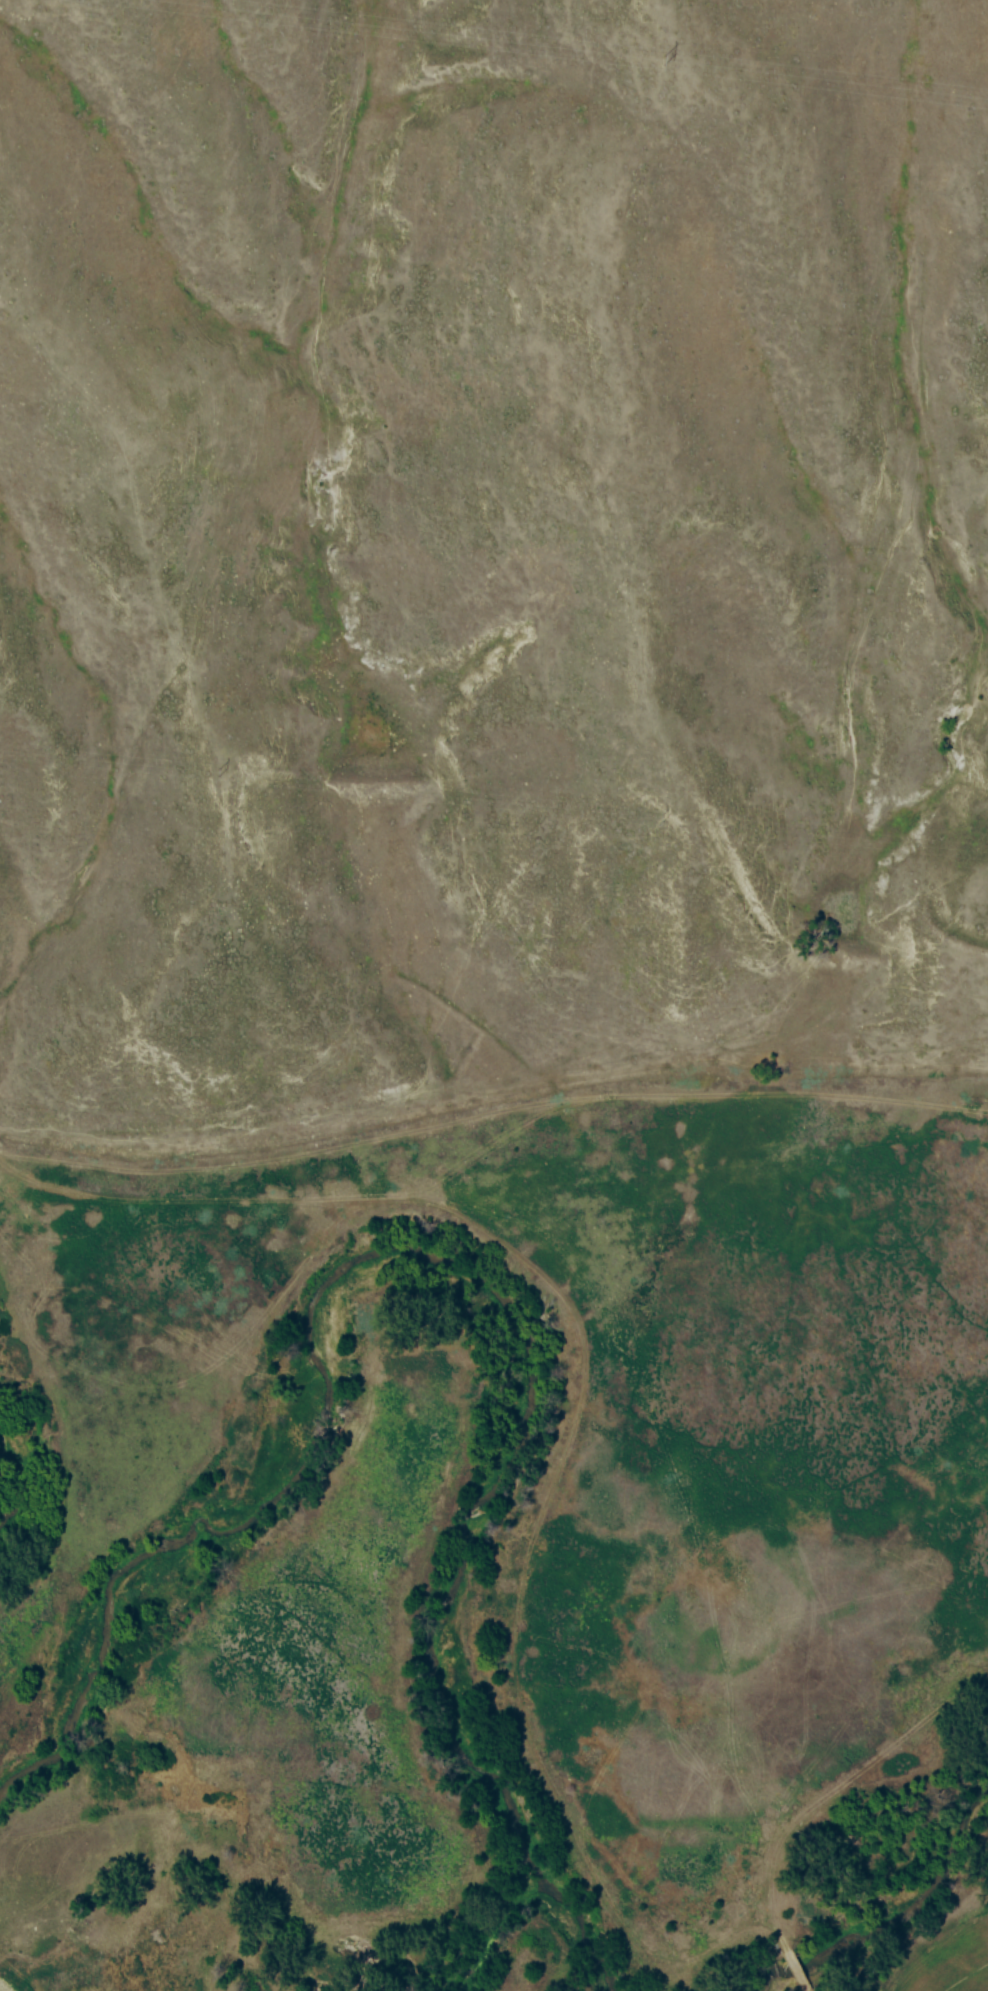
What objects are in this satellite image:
power tower: (662, 62)

